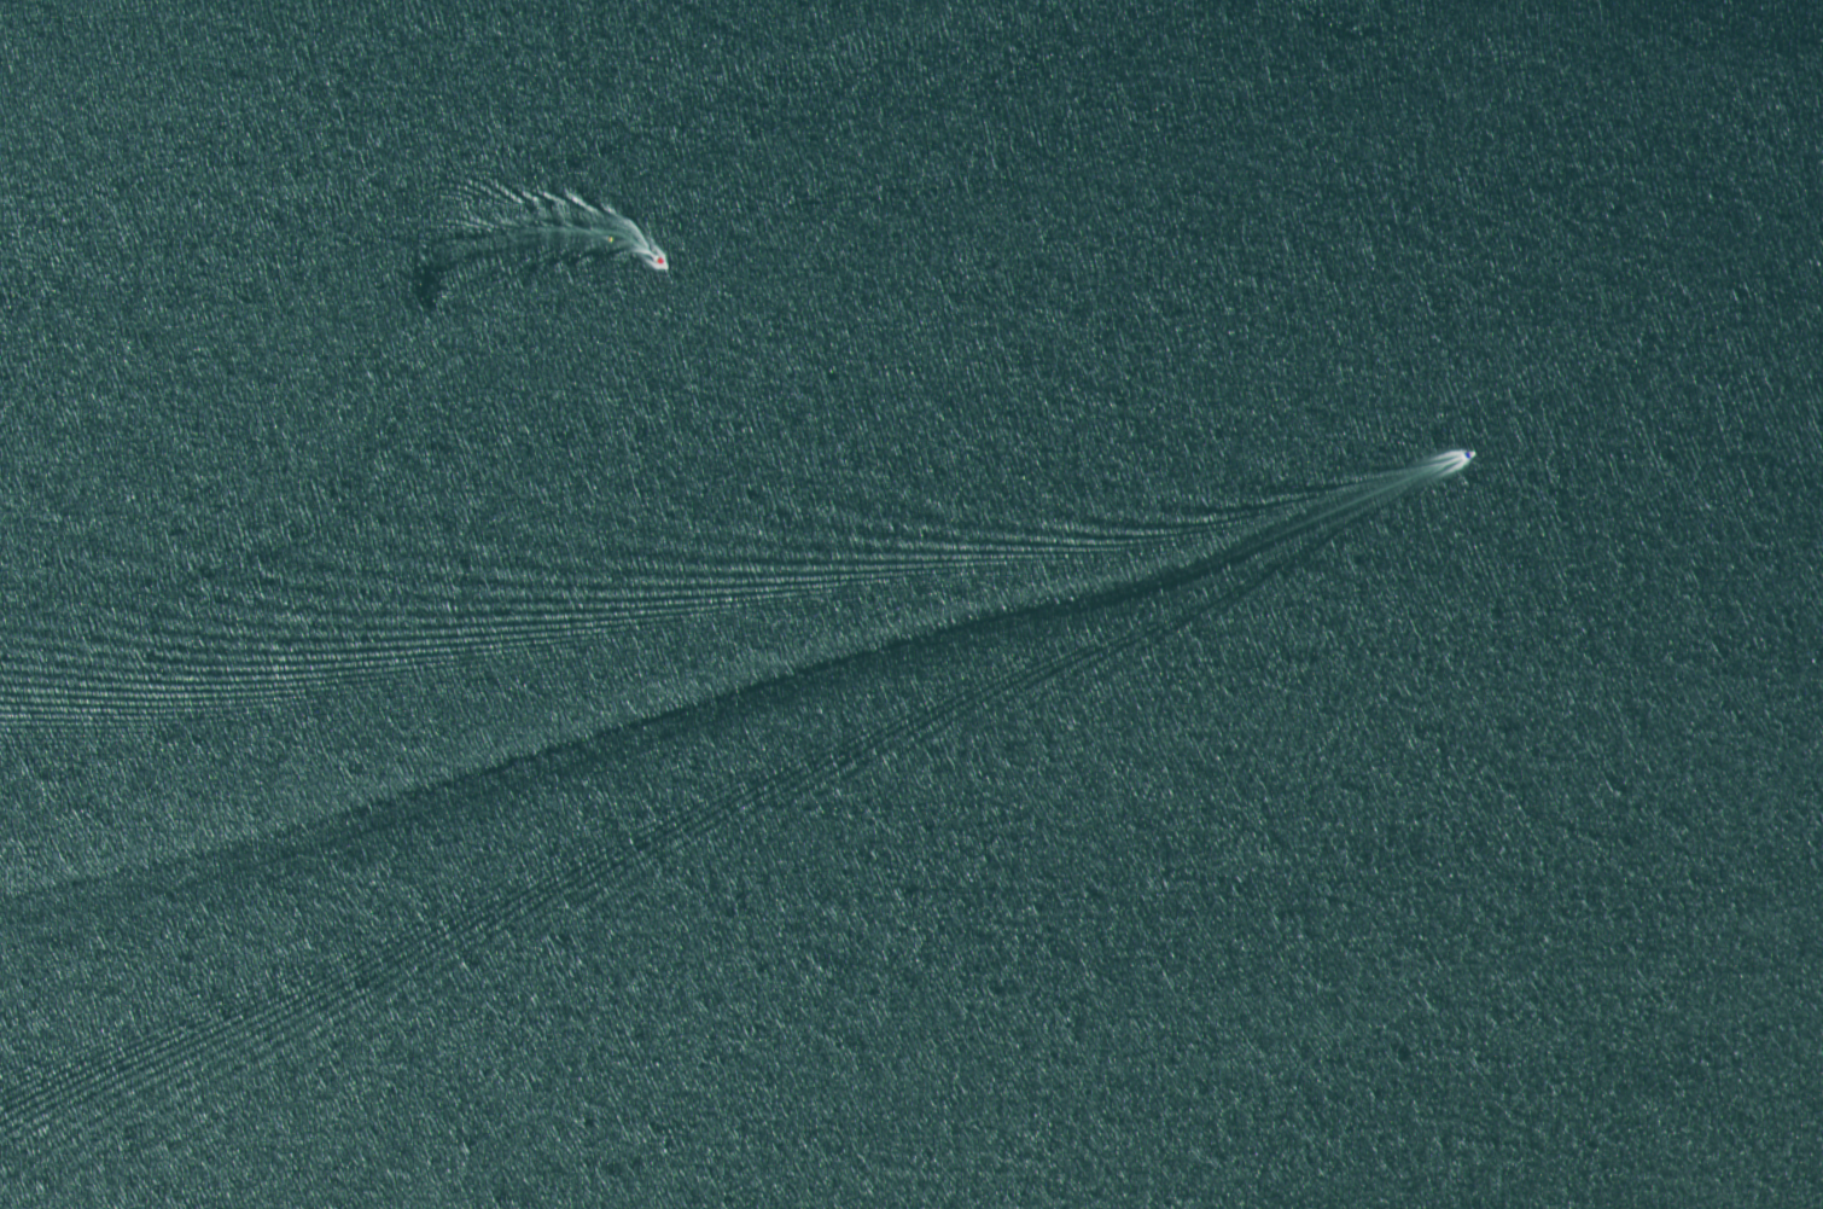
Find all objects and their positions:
river: (688, 101)

